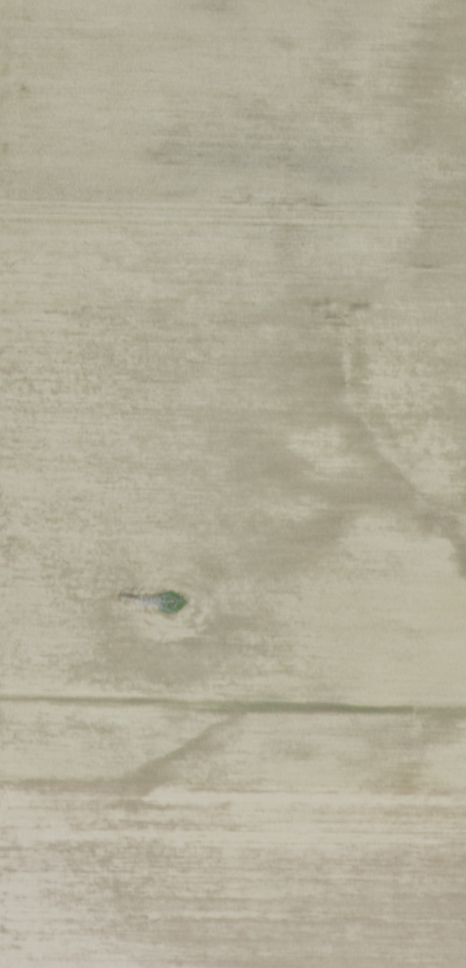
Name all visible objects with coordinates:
power tower: (175, 605)

